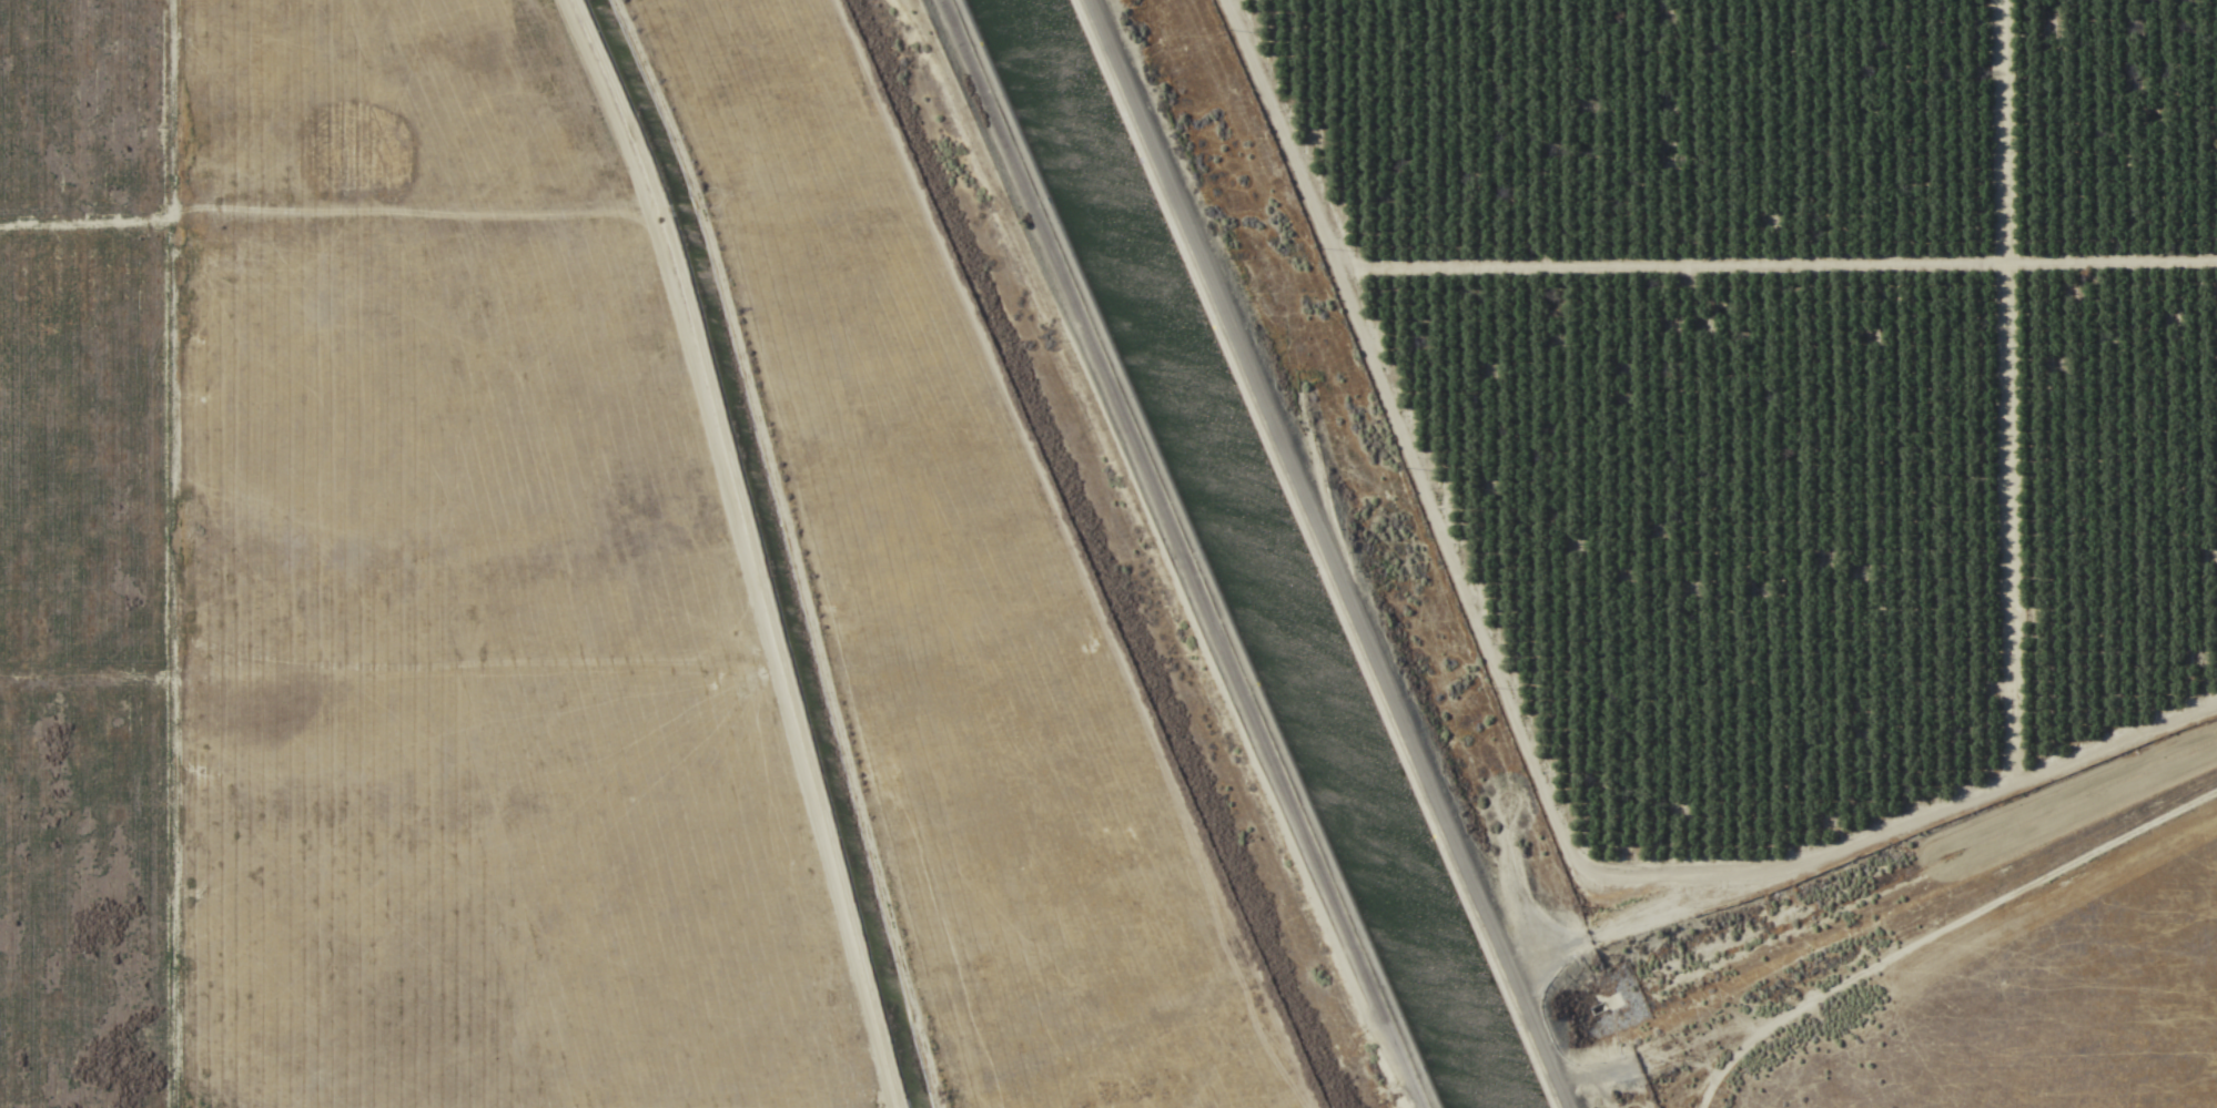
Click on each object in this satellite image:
road: (1339, 552)
road: (1182, 555)

